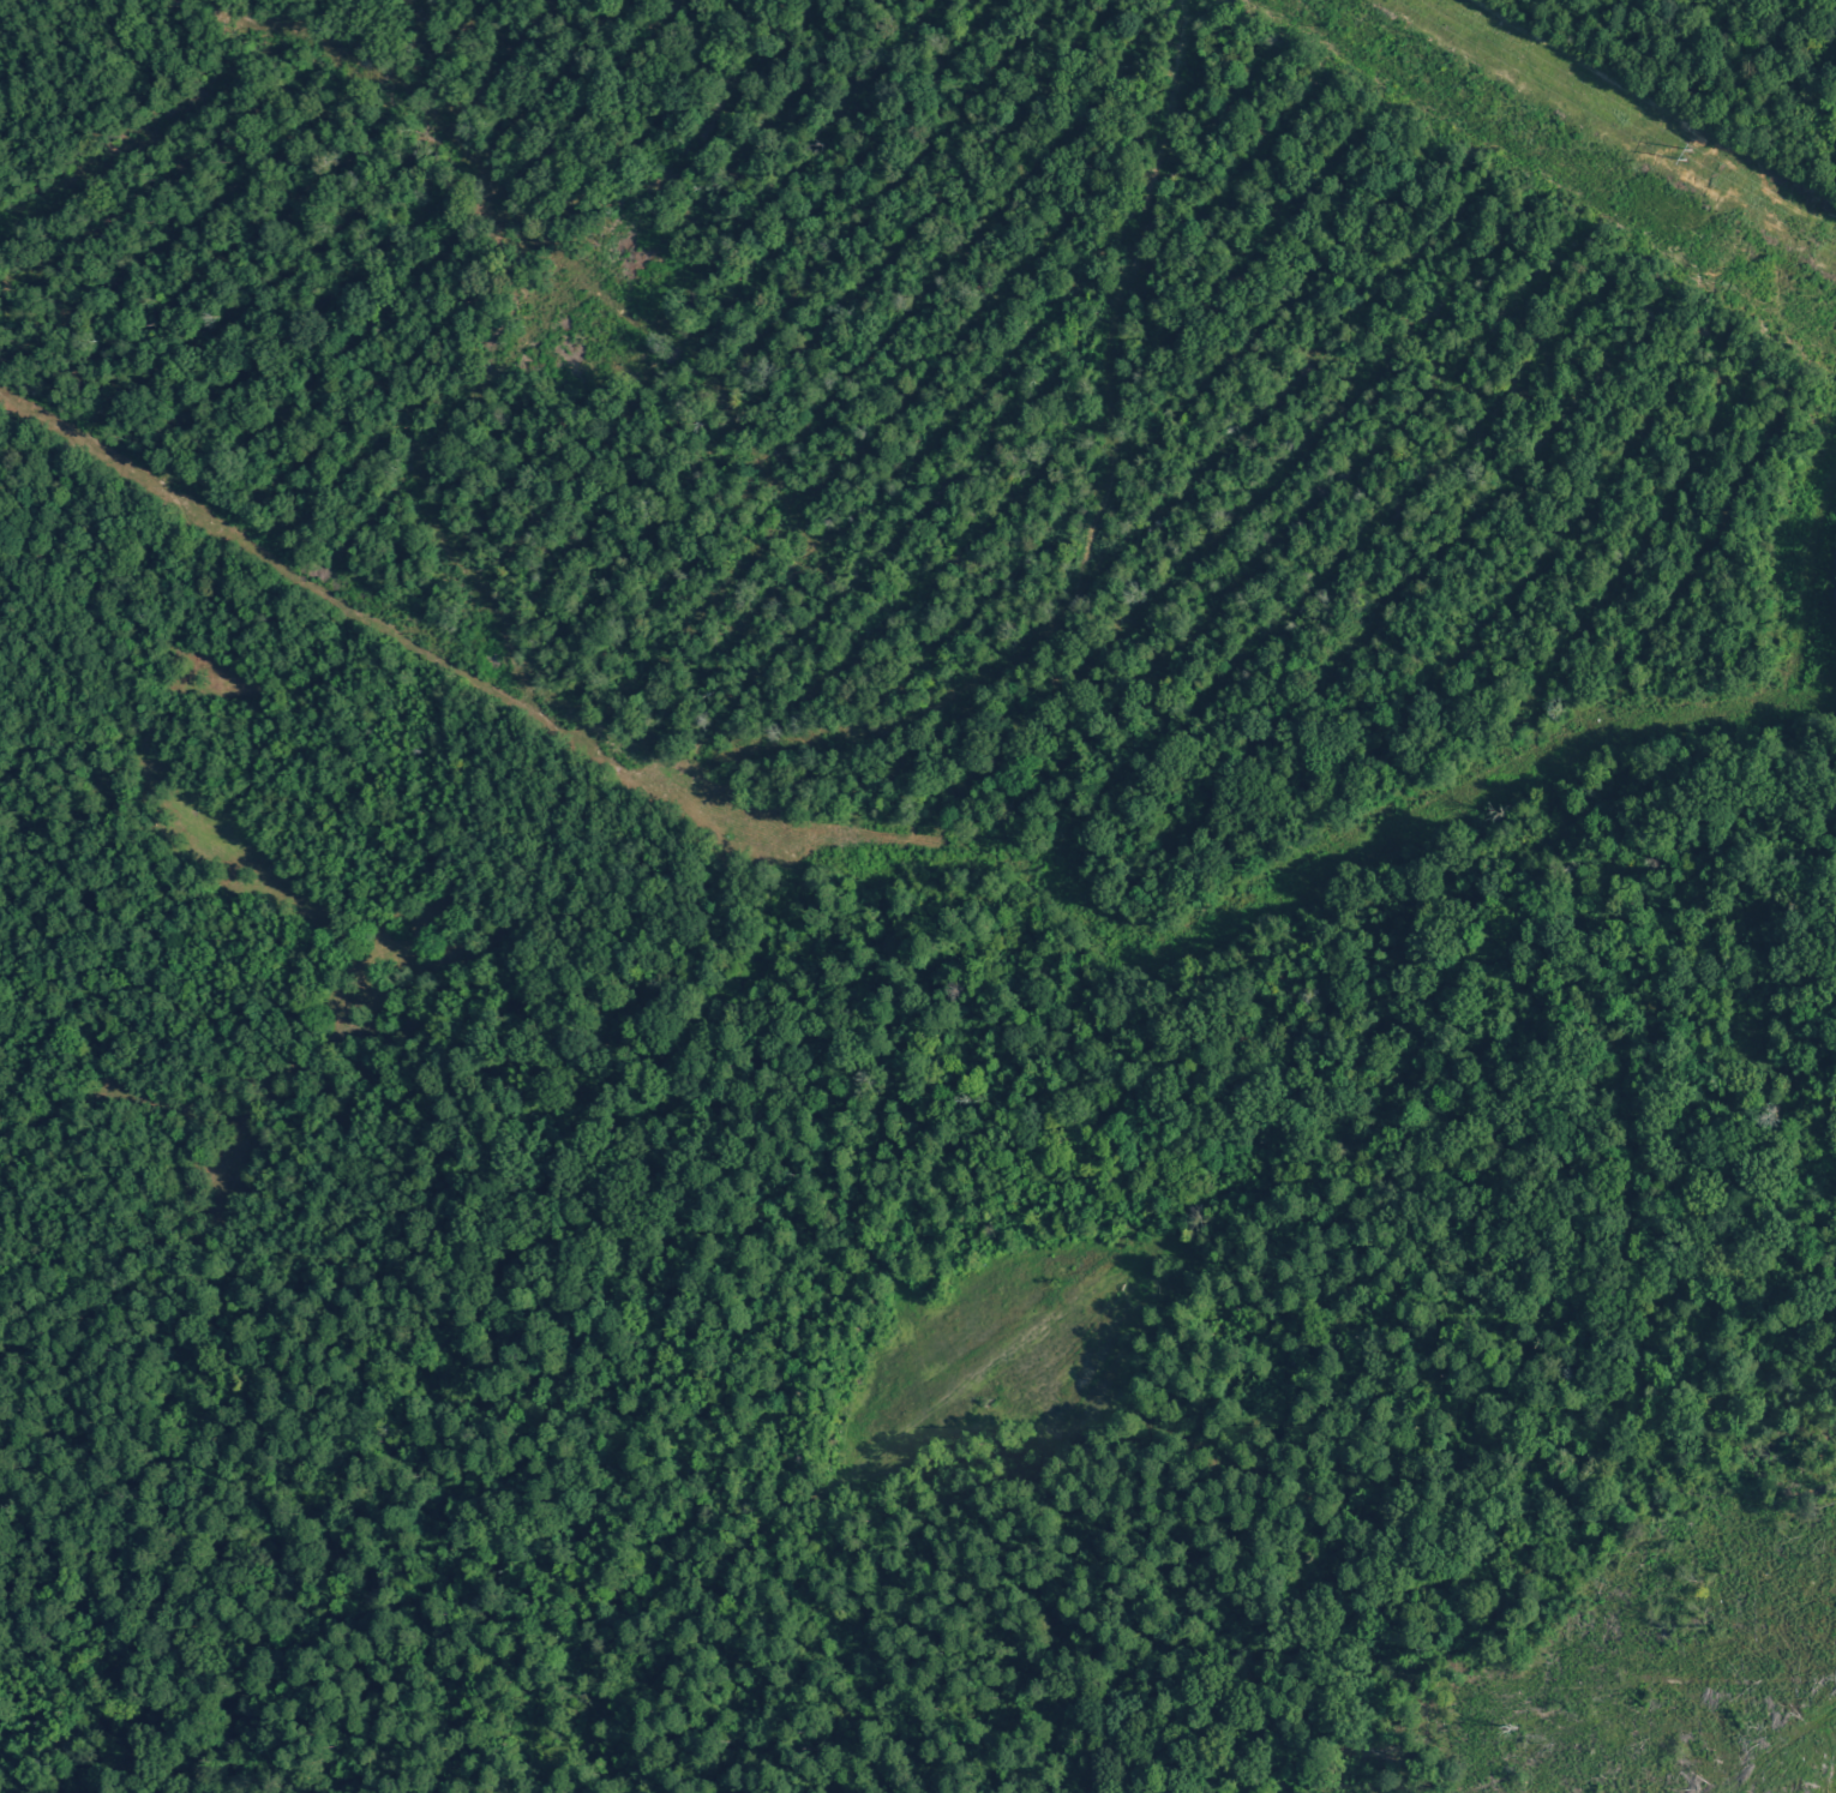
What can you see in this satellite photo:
power tower: (1664, 152)
power tower: (1681, 162)

